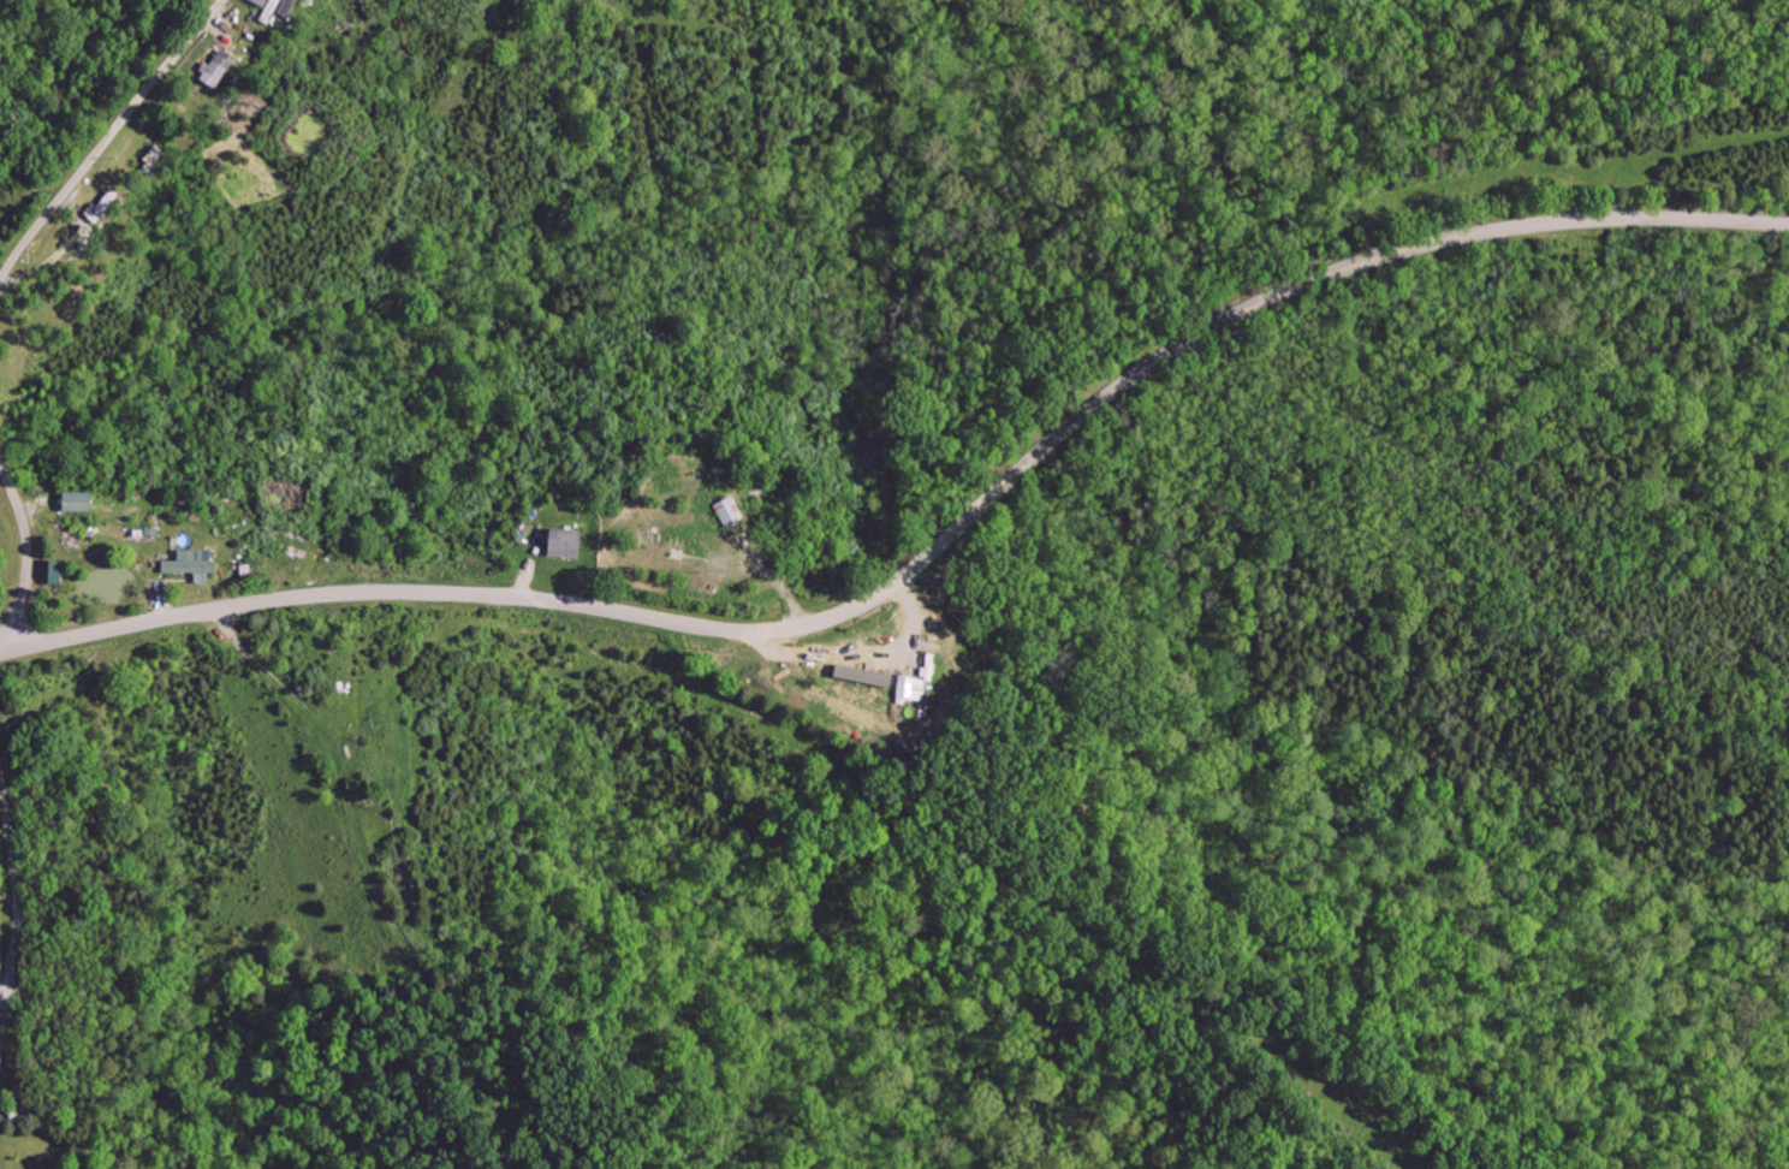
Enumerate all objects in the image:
building: (271, 8)
building: (220, 70)
road: (106, 133)
building: (72, 502)
building: (558, 541)
road: (928, 551)
road: (24, 556)
building: (188, 562)
road: (852, 654)
building: (856, 675)
building: (907, 688)
road: (16, 888)

